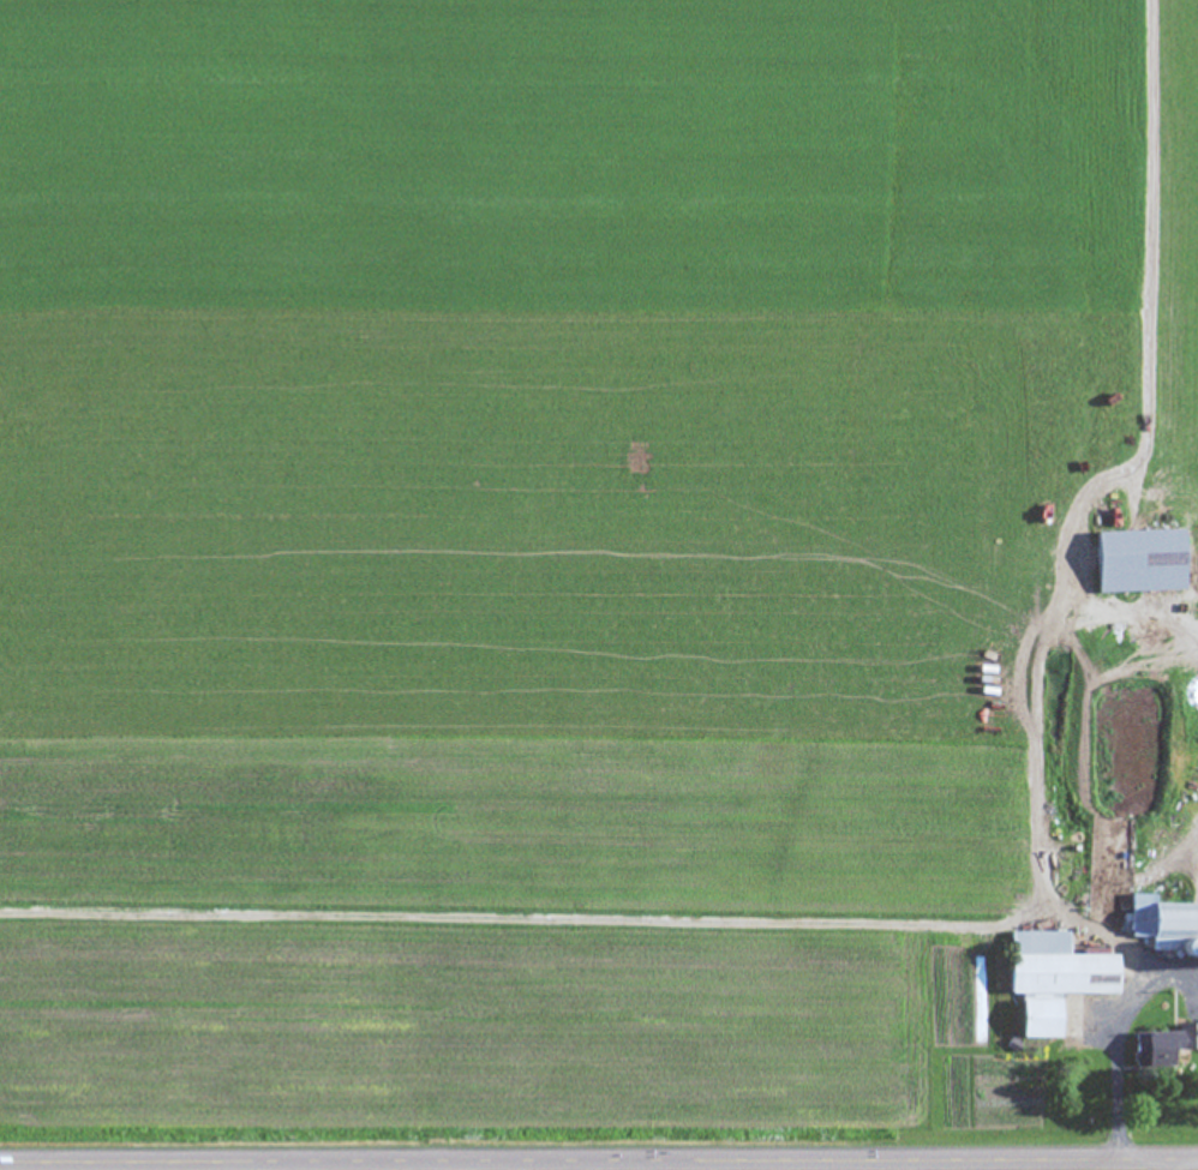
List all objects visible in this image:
building: (1164, 928)
building: (1049, 978)
road: (1110, 1032)
building: (1162, 1045)
road: (598, 1158)
road: (1169, 1164)

